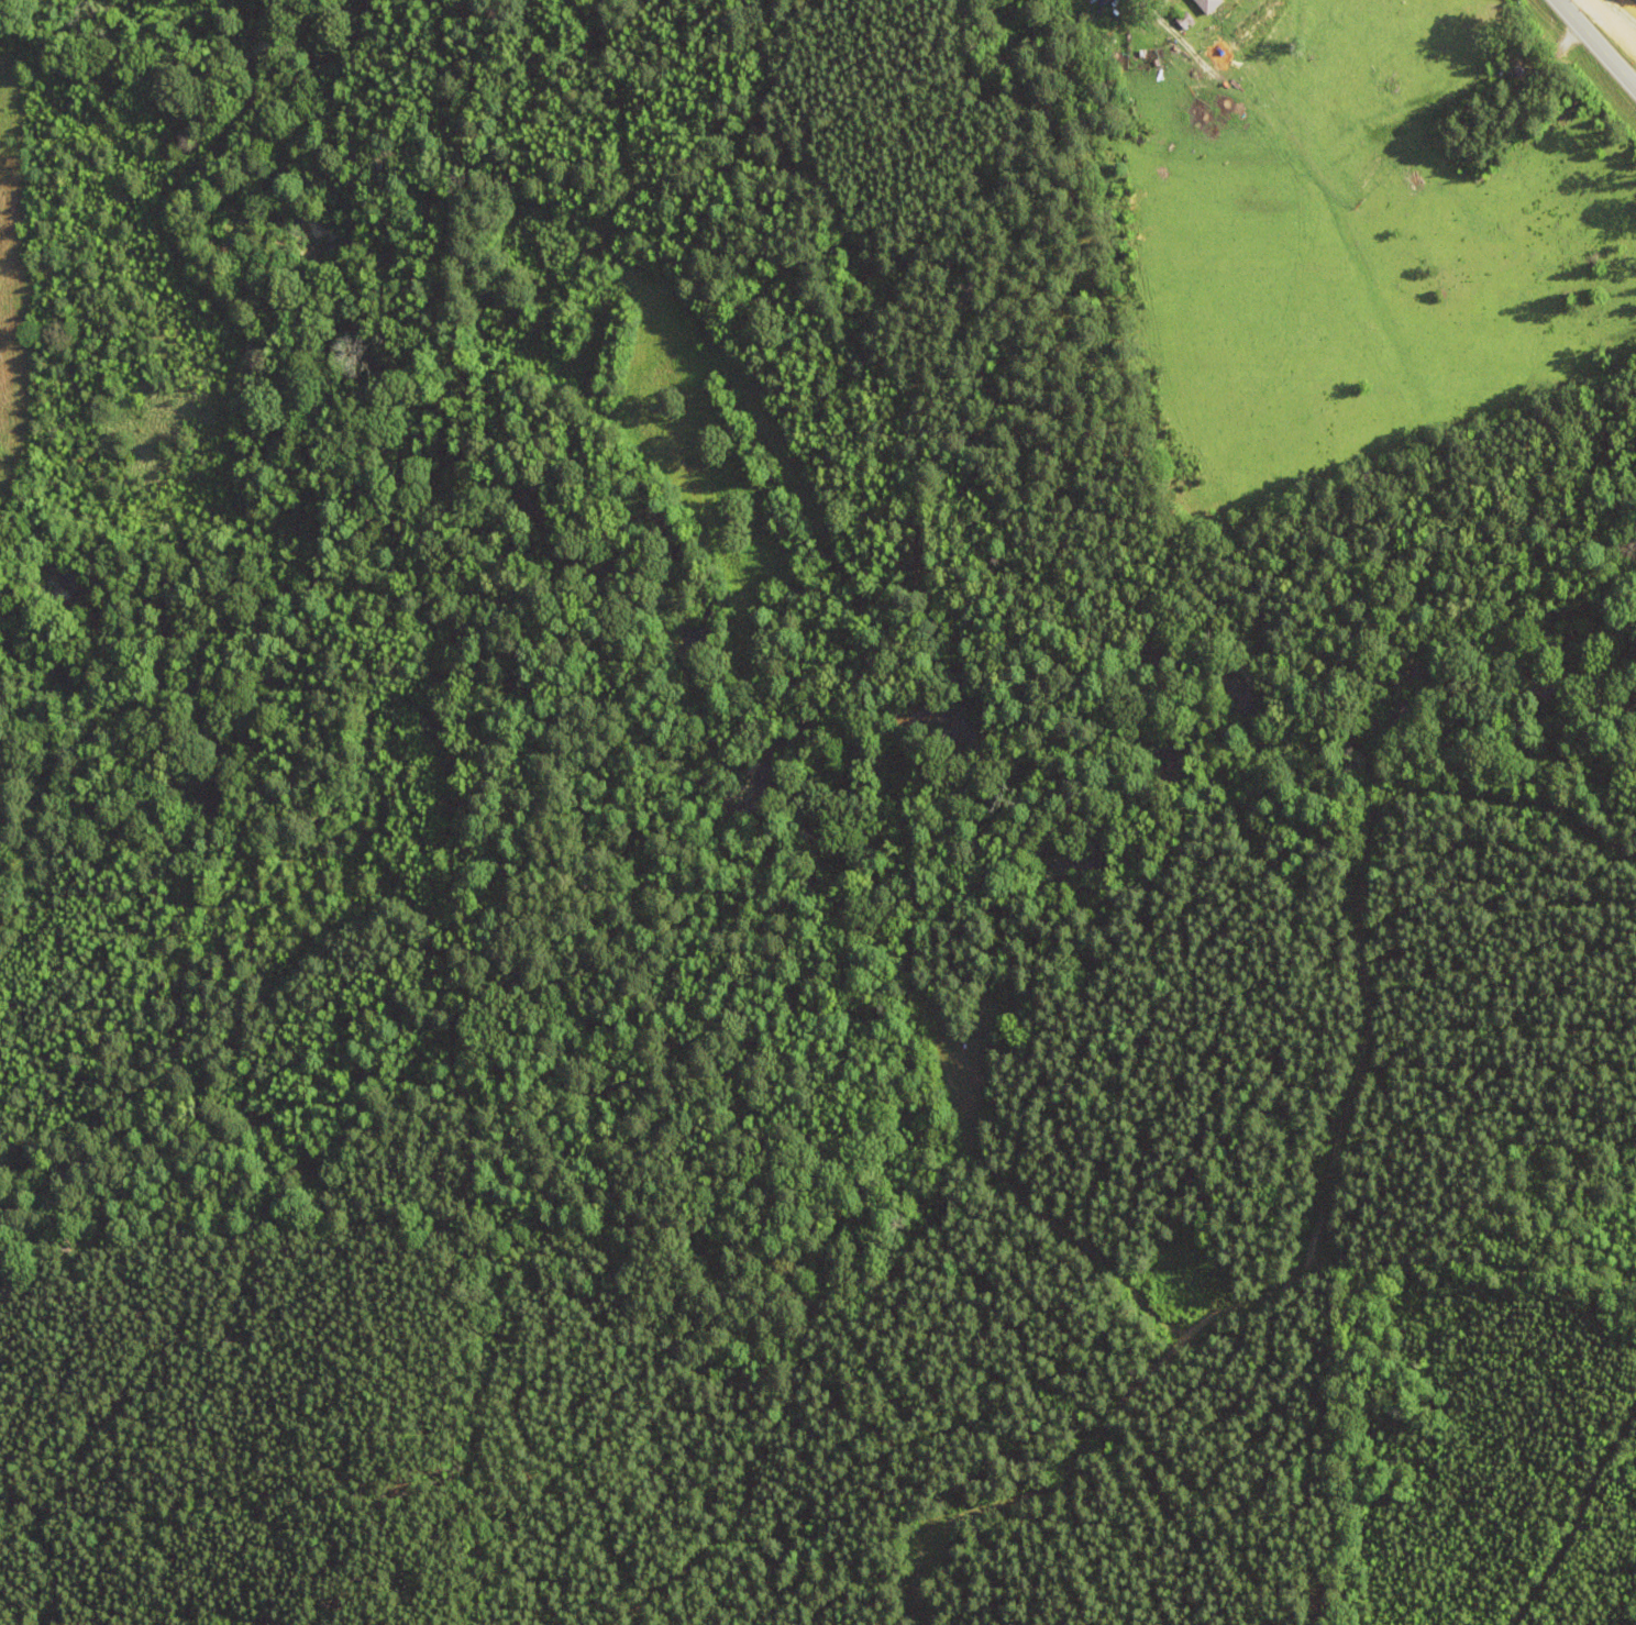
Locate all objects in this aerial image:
road: (1595, 44)

